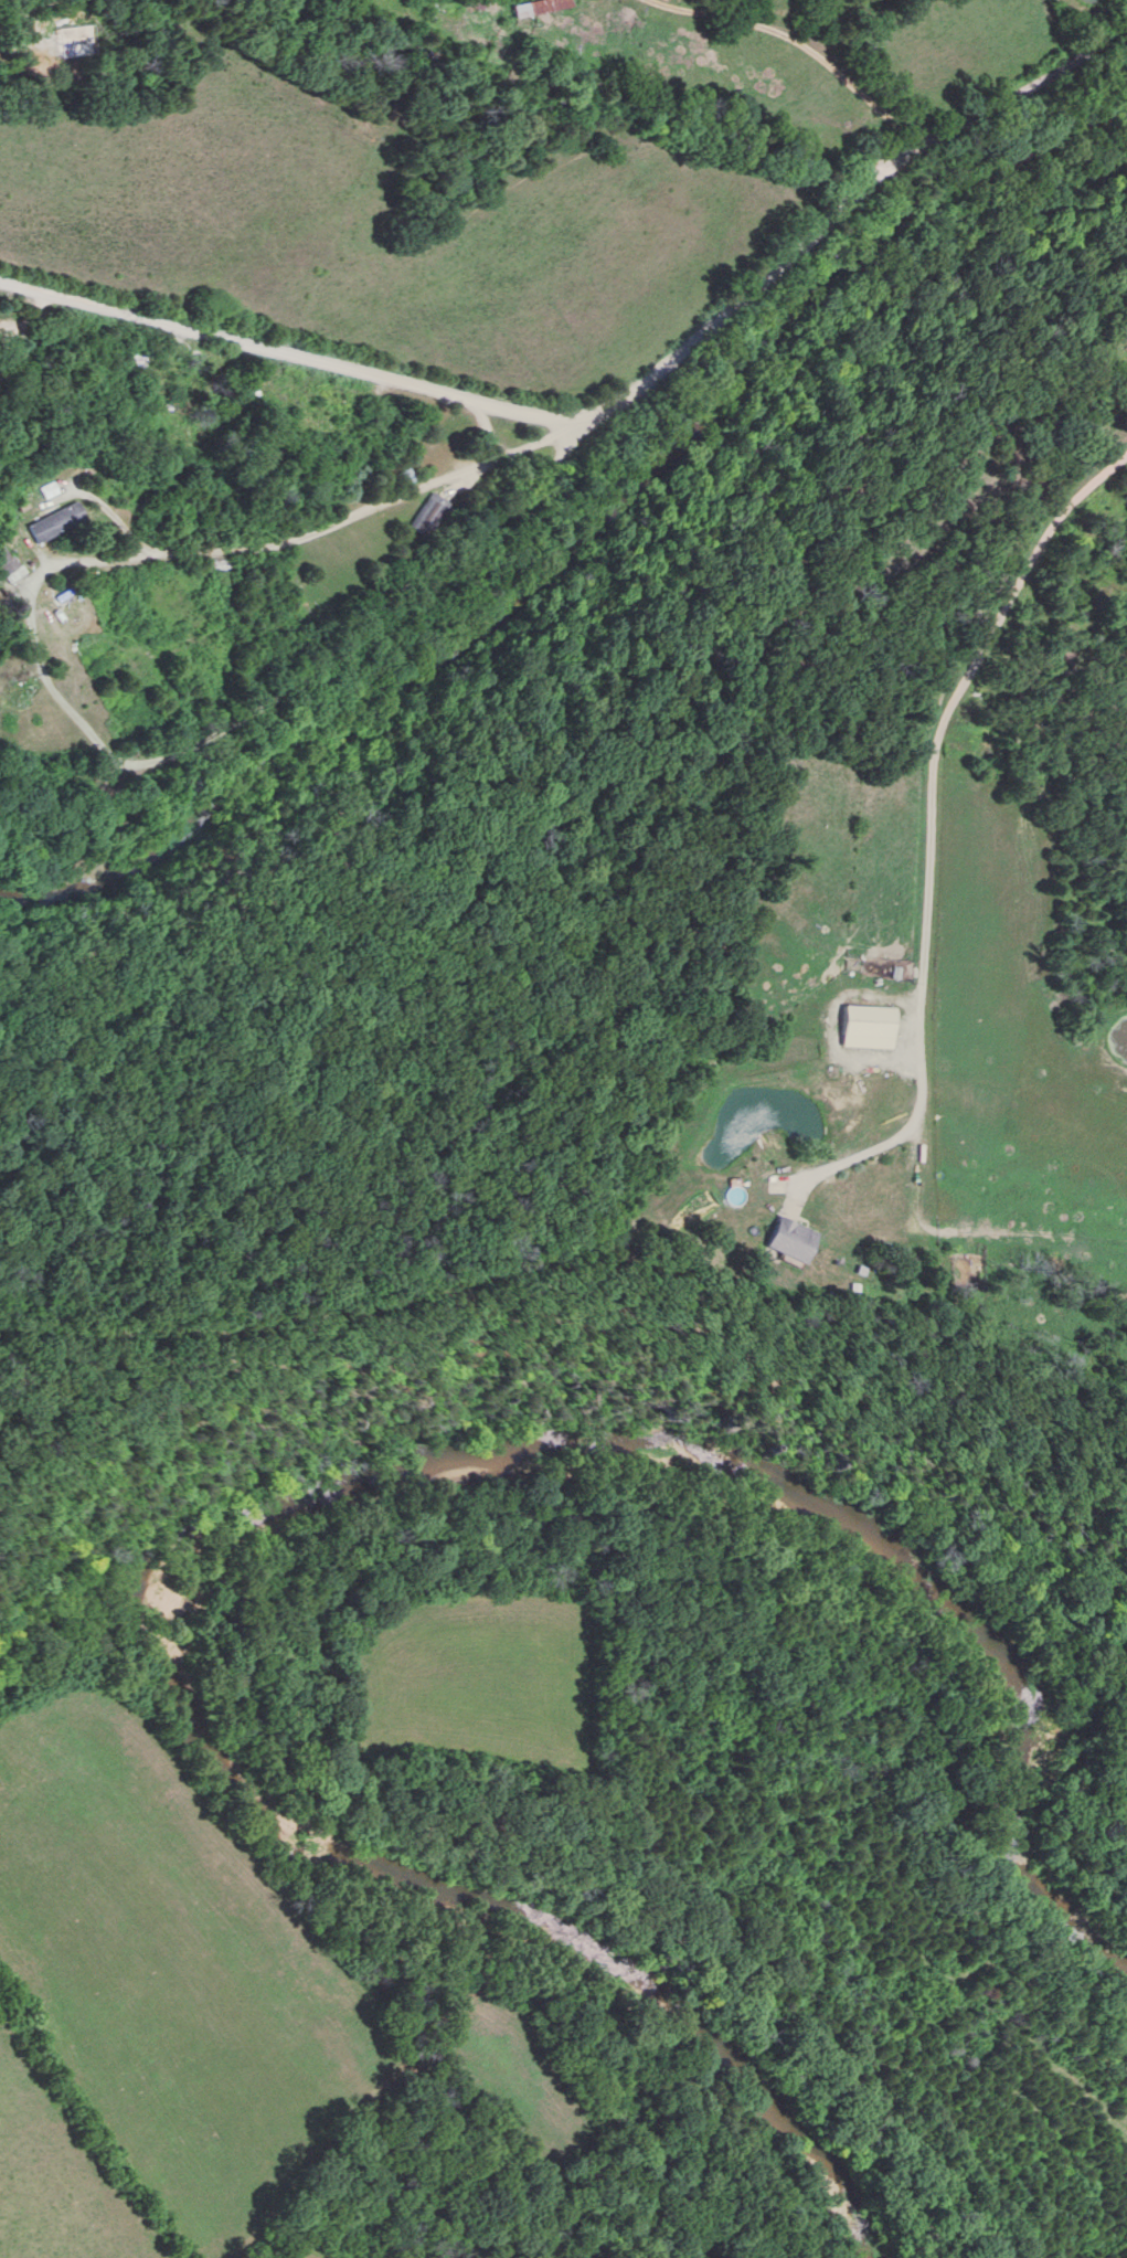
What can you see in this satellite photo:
building: (533, 6)
road: (804, 42)
road: (288, 359)
building: (189, 377)
building: (321, 401)
road: (576, 430)
road: (485, 434)
building: (410, 470)
building: (424, 513)
building: (52, 521)
road: (204, 555)
building: (7, 564)
road: (928, 817)
building: (862, 1025)
building: (791, 1234)

